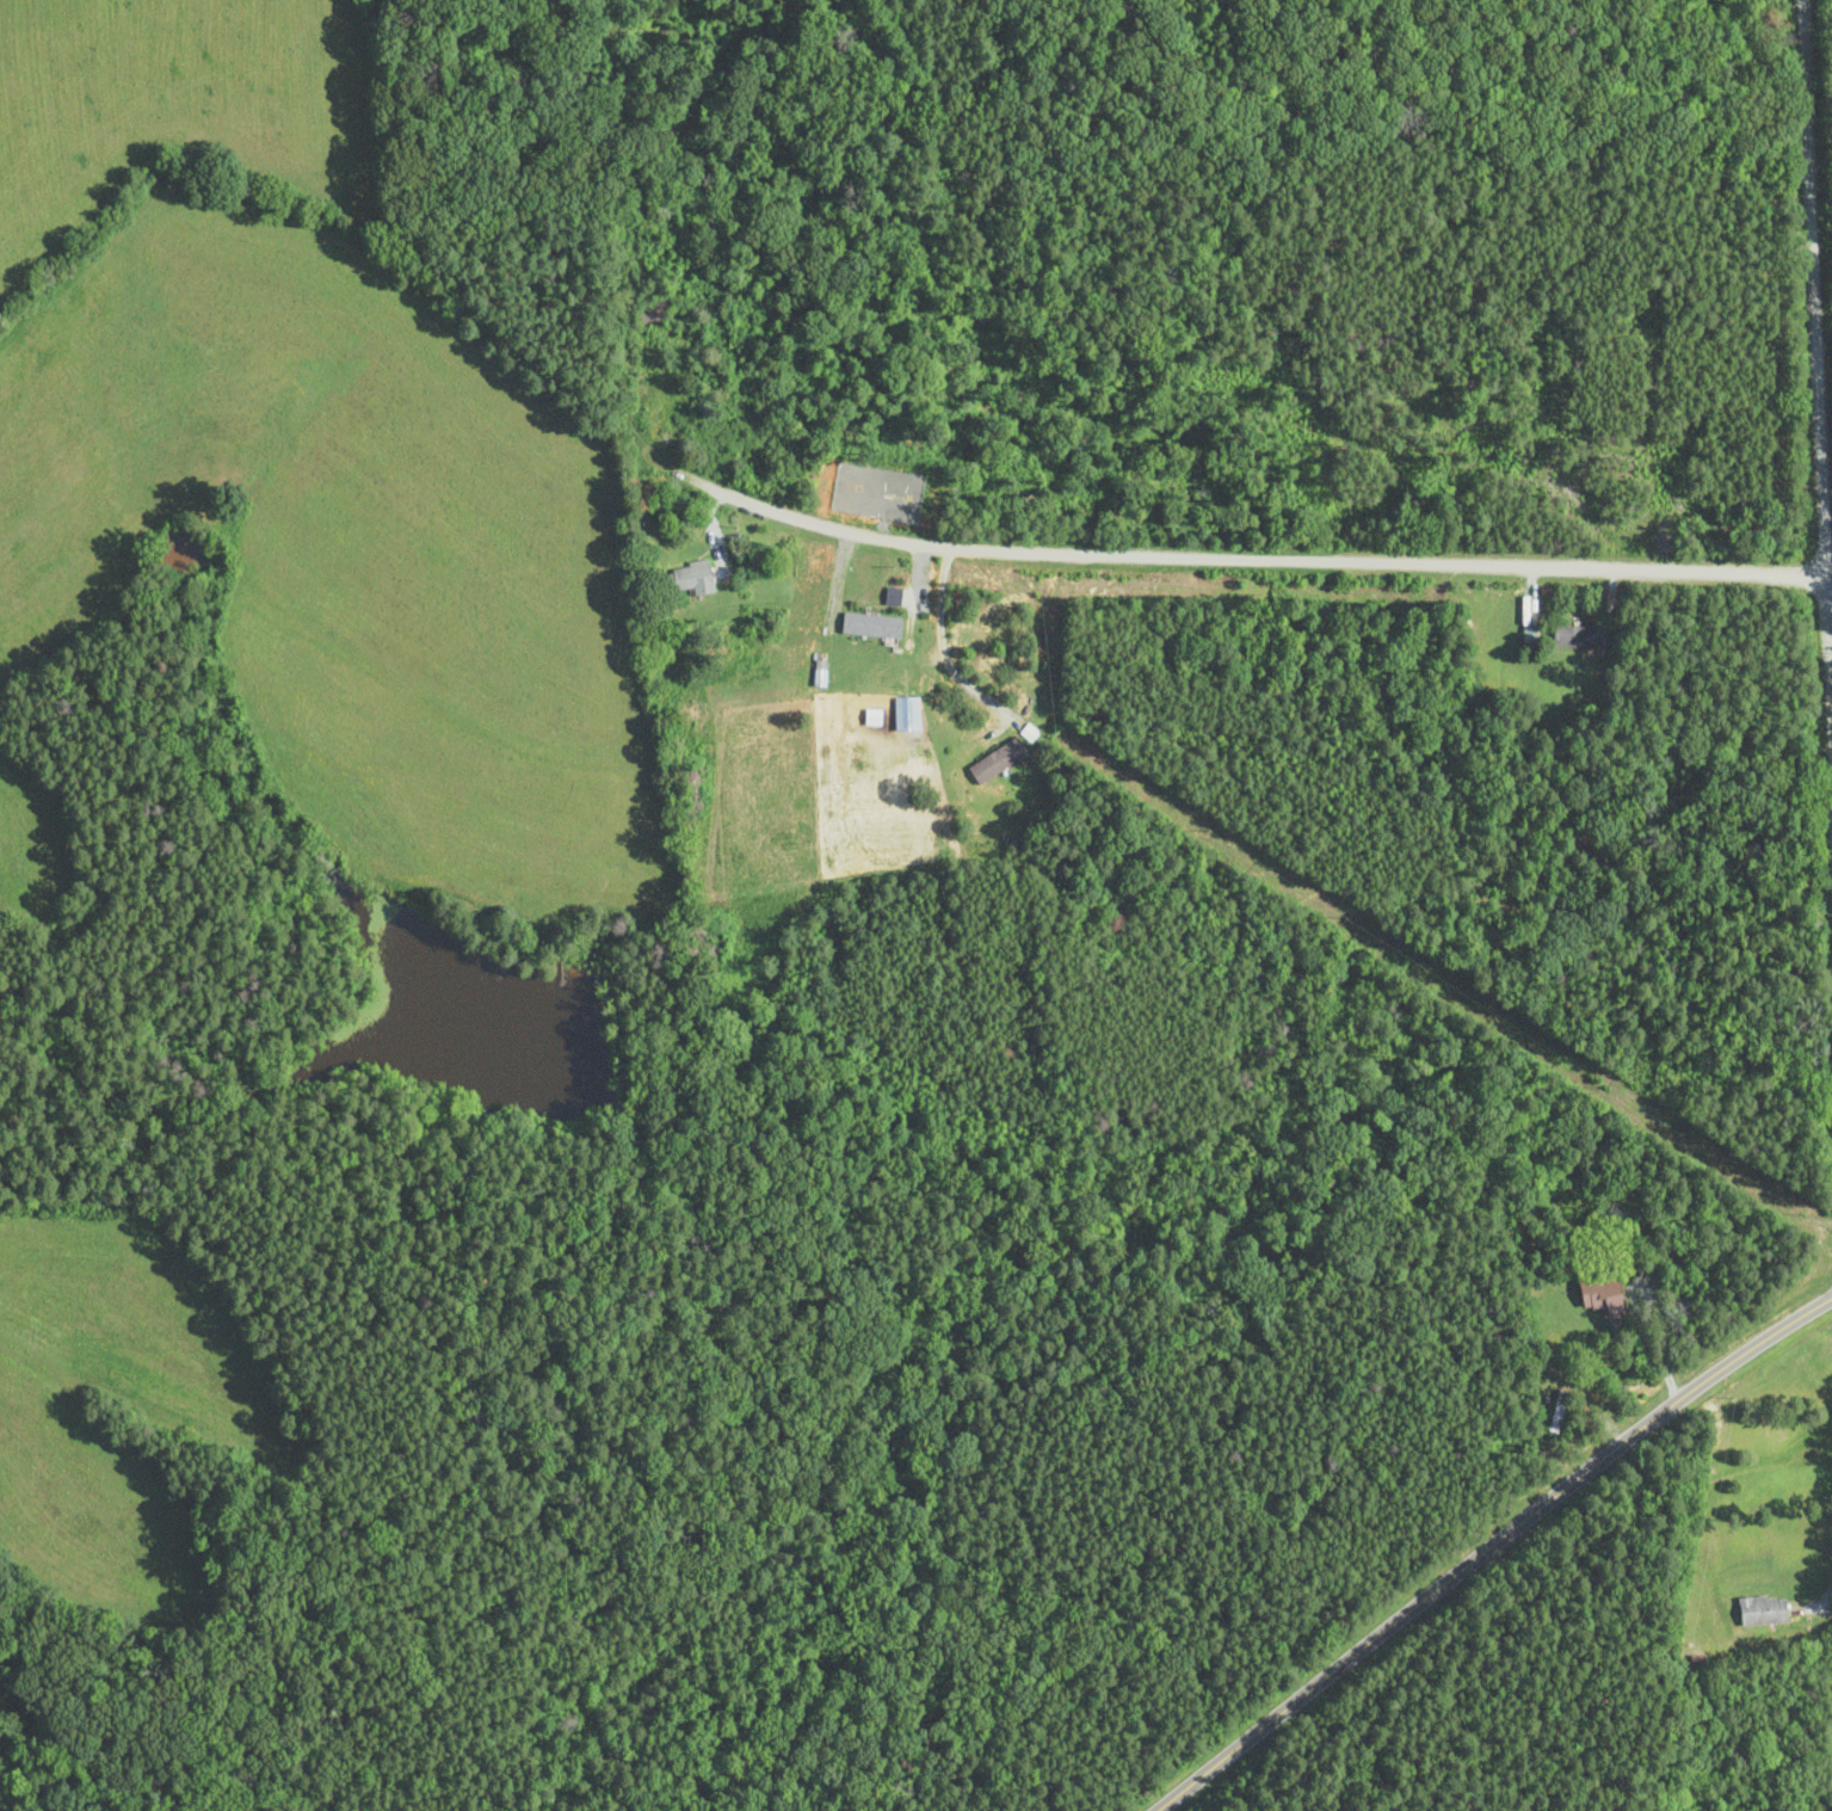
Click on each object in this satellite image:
road: (1816, 314)
road: (1180, 558)
building: (695, 580)
building: (875, 627)
building: (1581, 639)
building: (1029, 735)
building: (1000, 760)
building: (1604, 1295)
road: (1489, 1548)
building: (1764, 1610)

